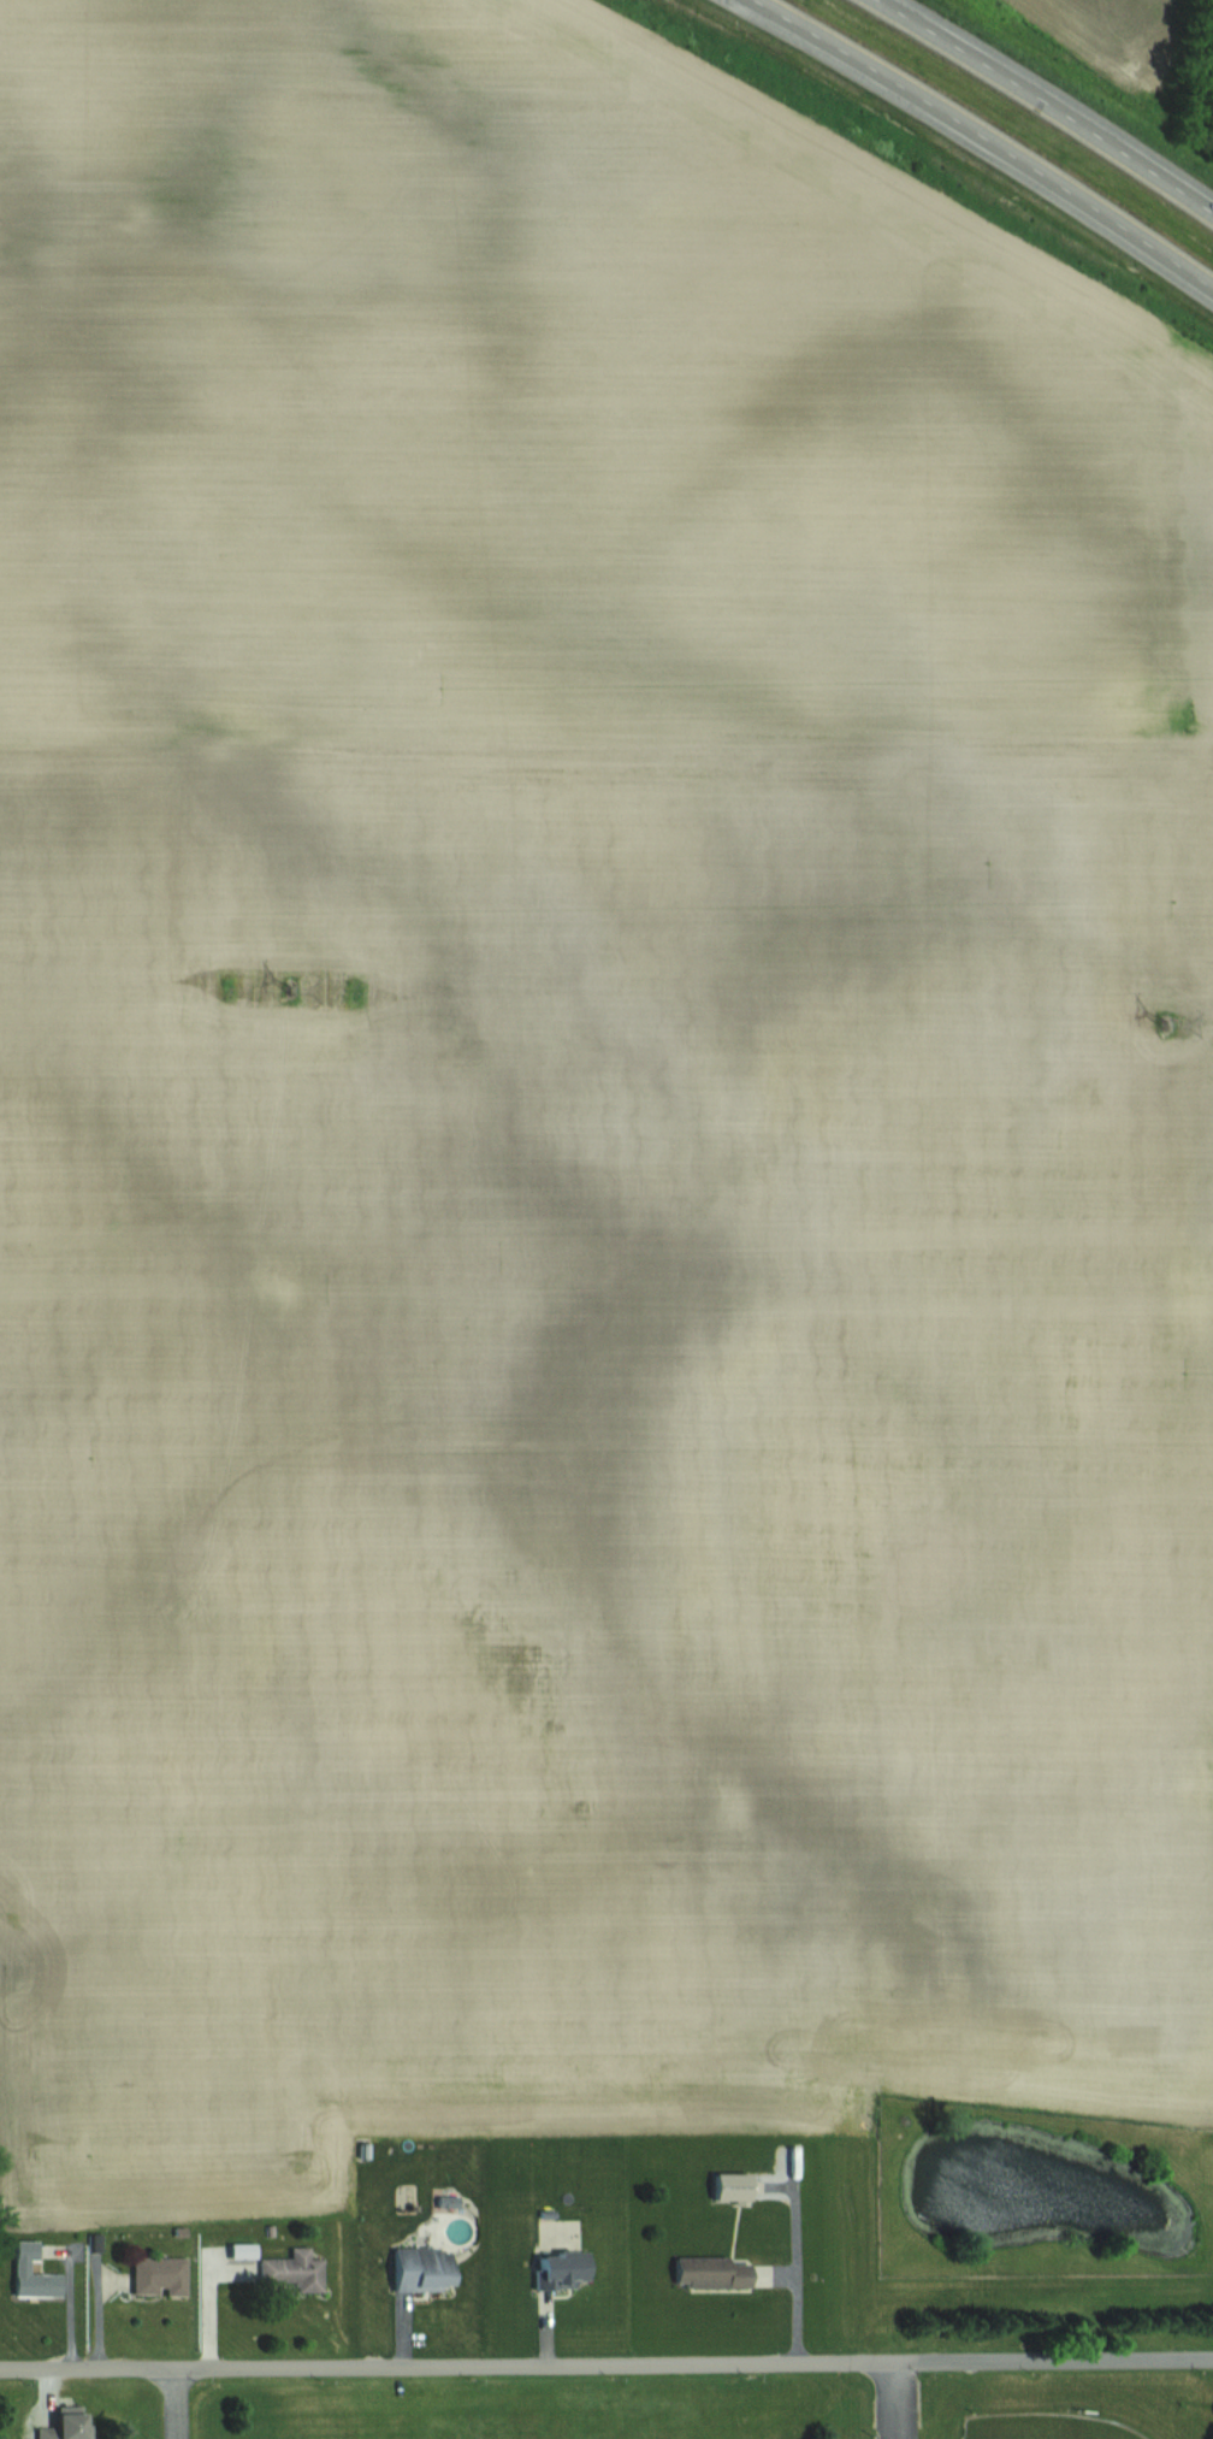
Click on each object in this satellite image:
road: (1046, 102)
road: (987, 138)
building: (291, 2269)
building: (415, 2269)
building: (550, 2270)
building: (29, 2273)
building: (155, 2276)
road: (606, 2363)
road: (889, 2399)
road: (176, 2404)
building: (58, 2425)

